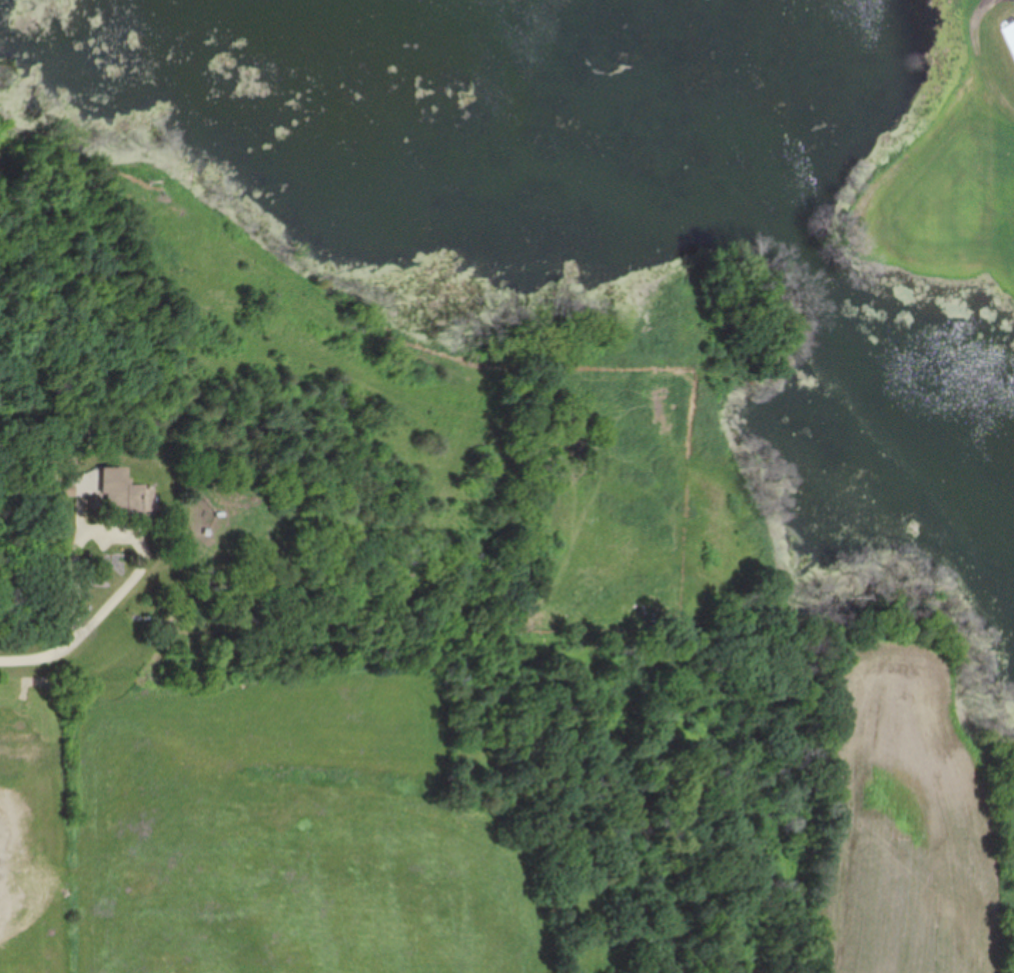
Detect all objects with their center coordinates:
building: (1013, 29)
building: (120, 494)
road: (77, 549)
road: (41, 653)

